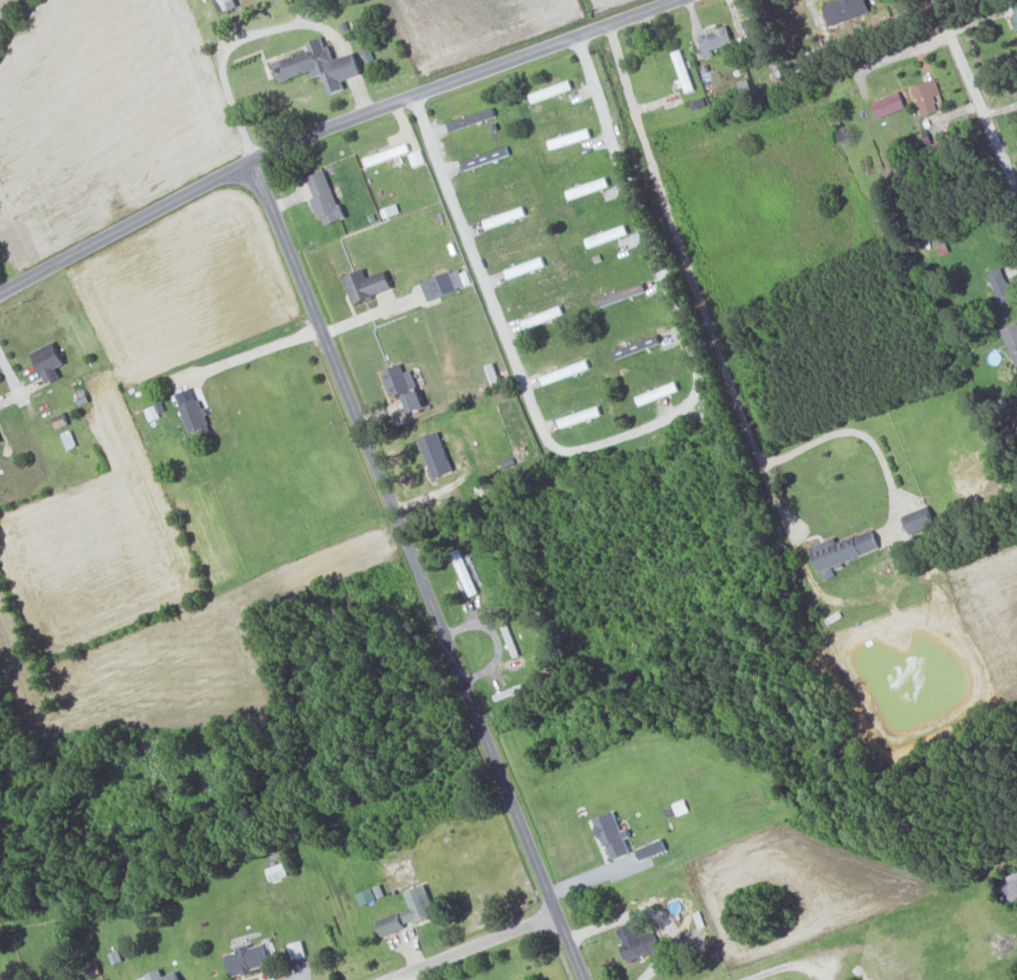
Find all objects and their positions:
building: (227, 1)
building: (845, 9)
building: (1015, 17)
building: (753, 25)
road: (235, 37)
building: (716, 39)
road: (903, 53)
road: (351, 55)
building: (320, 64)
building: (683, 71)
road: (364, 89)
building: (551, 90)
building: (927, 95)
road: (975, 99)
building: (889, 104)
building: (469, 120)
road: (331, 128)
building: (569, 137)
building: (387, 154)
building: (478, 160)
building: (587, 187)
building: (325, 197)
building: (606, 235)
building: (525, 267)
road: (695, 274)
building: (366, 284)
building: (438, 285)
building: (1001, 285)
building: (543, 316)
building: (1011, 339)
road: (254, 341)
building: (48, 361)
building: (551, 377)
building: (403, 386)
building: (657, 393)
road: (29, 413)
building: (580, 416)
building: (194, 417)
road: (629, 433)
building: (68, 439)
building: (0, 441)
building: (436, 454)
building: (920, 519)
building: (843, 549)
road: (417, 572)
road: (496, 638)
building: (681, 807)
building: (613, 836)
building: (652, 849)
building: (277, 872)
road: (587, 877)
building: (365, 897)
building: (419, 904)
building: (391, 924)
building: (637, 942)
road: (473, 947)
building: (298, 950)
building: (248, 960)
building: (161, 976)
road: (752, 978)
building: (106, 979)

